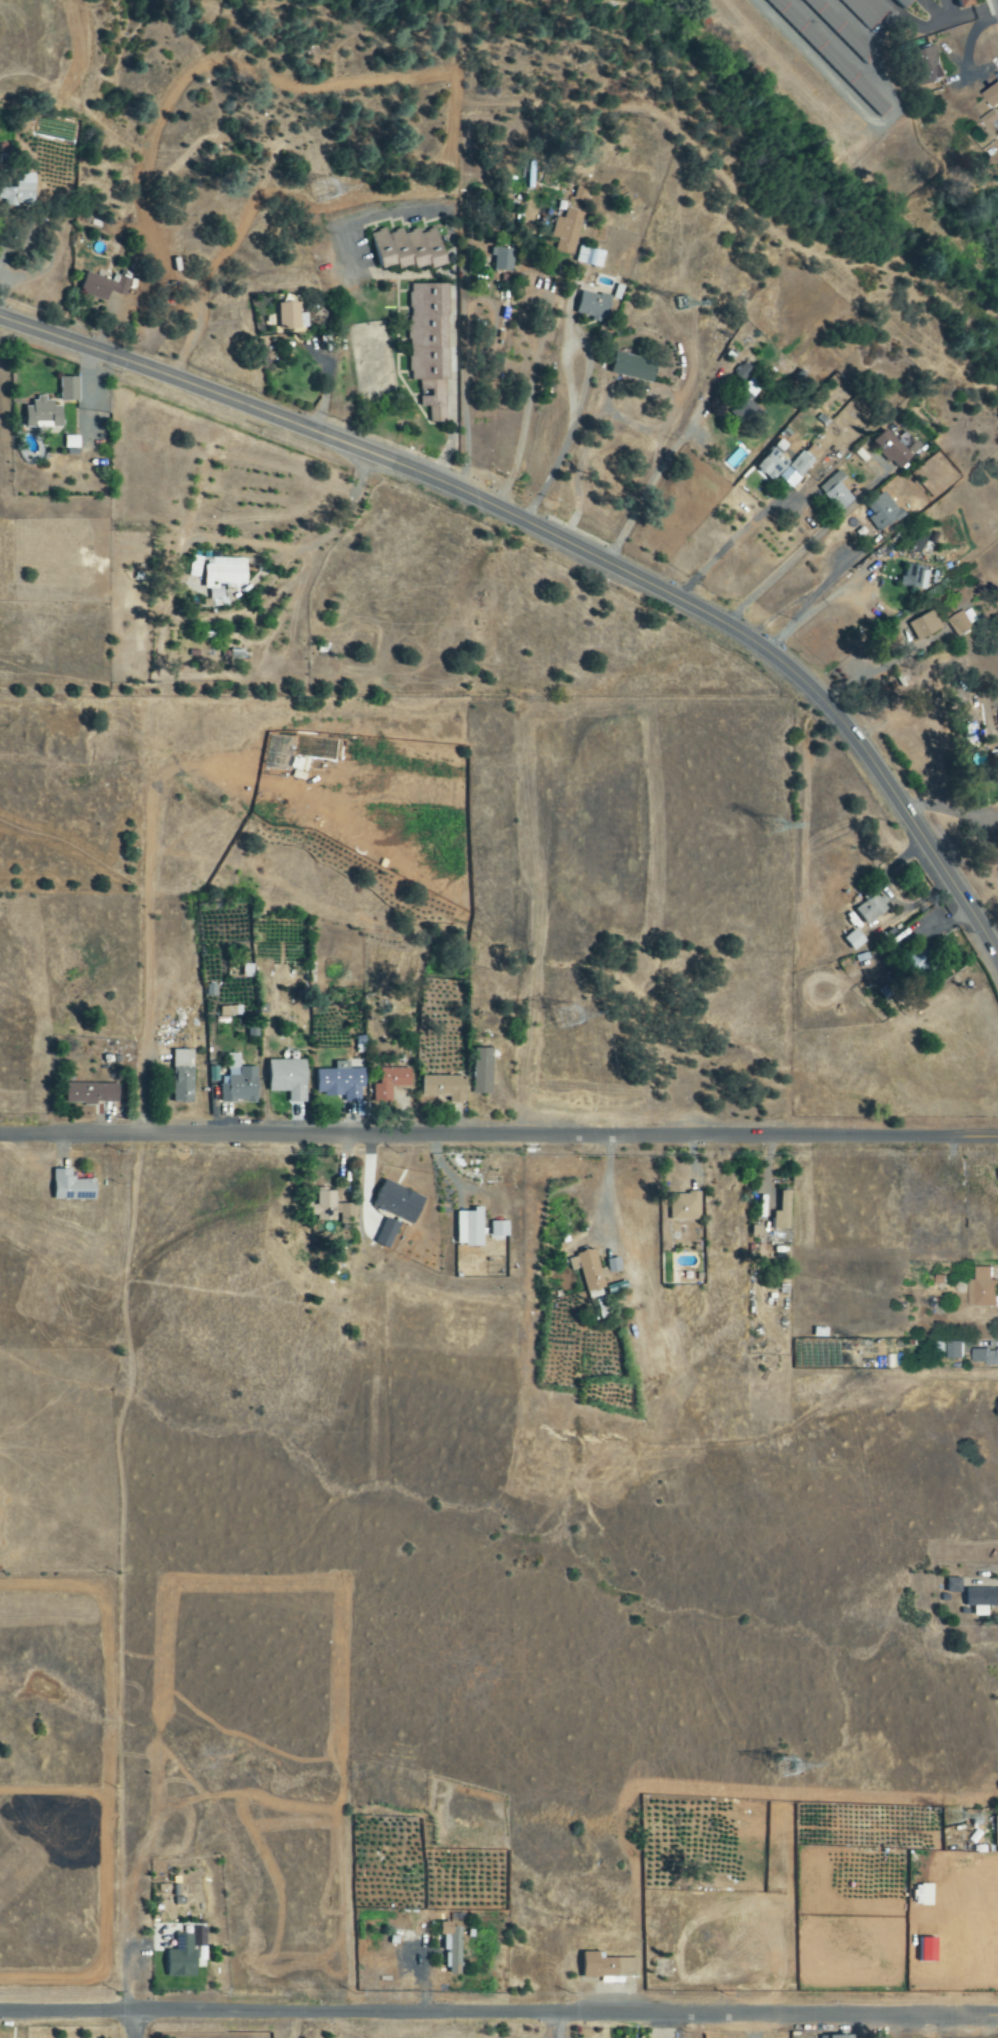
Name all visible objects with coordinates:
building: (902, 2)
building: (966, 3)
building: (866, 11)
building: (930, 65)
building: (840, 66)
building: (993, 98)
building: (992, 124)
power tower: (320, 191)
building: (19, 193)
building: (567, 232)
building: (409, 249)
building: (590, 258)
building: (503, 260)
building: (104, 287)
building: (593, 307)
power tower: (682, 307)
building: (289, 317)
building: (431, 346)
building: (634, 368)
building: (69, 390)
building: (44, 415)
building: (886, 449)
building: (788, 465)
building: (832, 492)
building: (879, 512)
road: (569, 545)
road: (287, 549)
building: (224, 577)
building: (910, 578)
building: (958, 624)
building: (921, 626)
power tower: (776, 830)
building: (867, 909)
building: (850, 940)
building: (914, 957)
building: (227, 1011)
power tower: (564, 1016)
building: (483, 1071)
building: (183, 1077)
building: (289, 1079)
building: (341, 1082)
building: (391, 1083)
building: (240, 1086)
building: (445, 1088)
building: (92, 1094)
road: (499, 1134)
building: (73, 1187)
building: (399, 1202)
building: (681, 1207)
building: (330, 1209)
building: (777, 1213)
building: (470, 1228)
building: (500, 1229)
building: (387, 1233)
building: (589, 1271)
building: (979, 1290)
building: (951, 1351)
power tower: (865, 1356)
building: (983, 1358)
building: (950, 1586)
building: (978, 1600)
power tower: (783, 1767)
power tower: (955, 1827)
building: (994, 1832)
building: (452, 1948)
building: (182, 1958)
building: (608, 1965)
road: (499, 2011)
road: (135, 2024)
road: (556, 2025)
building: (837, 2036)

